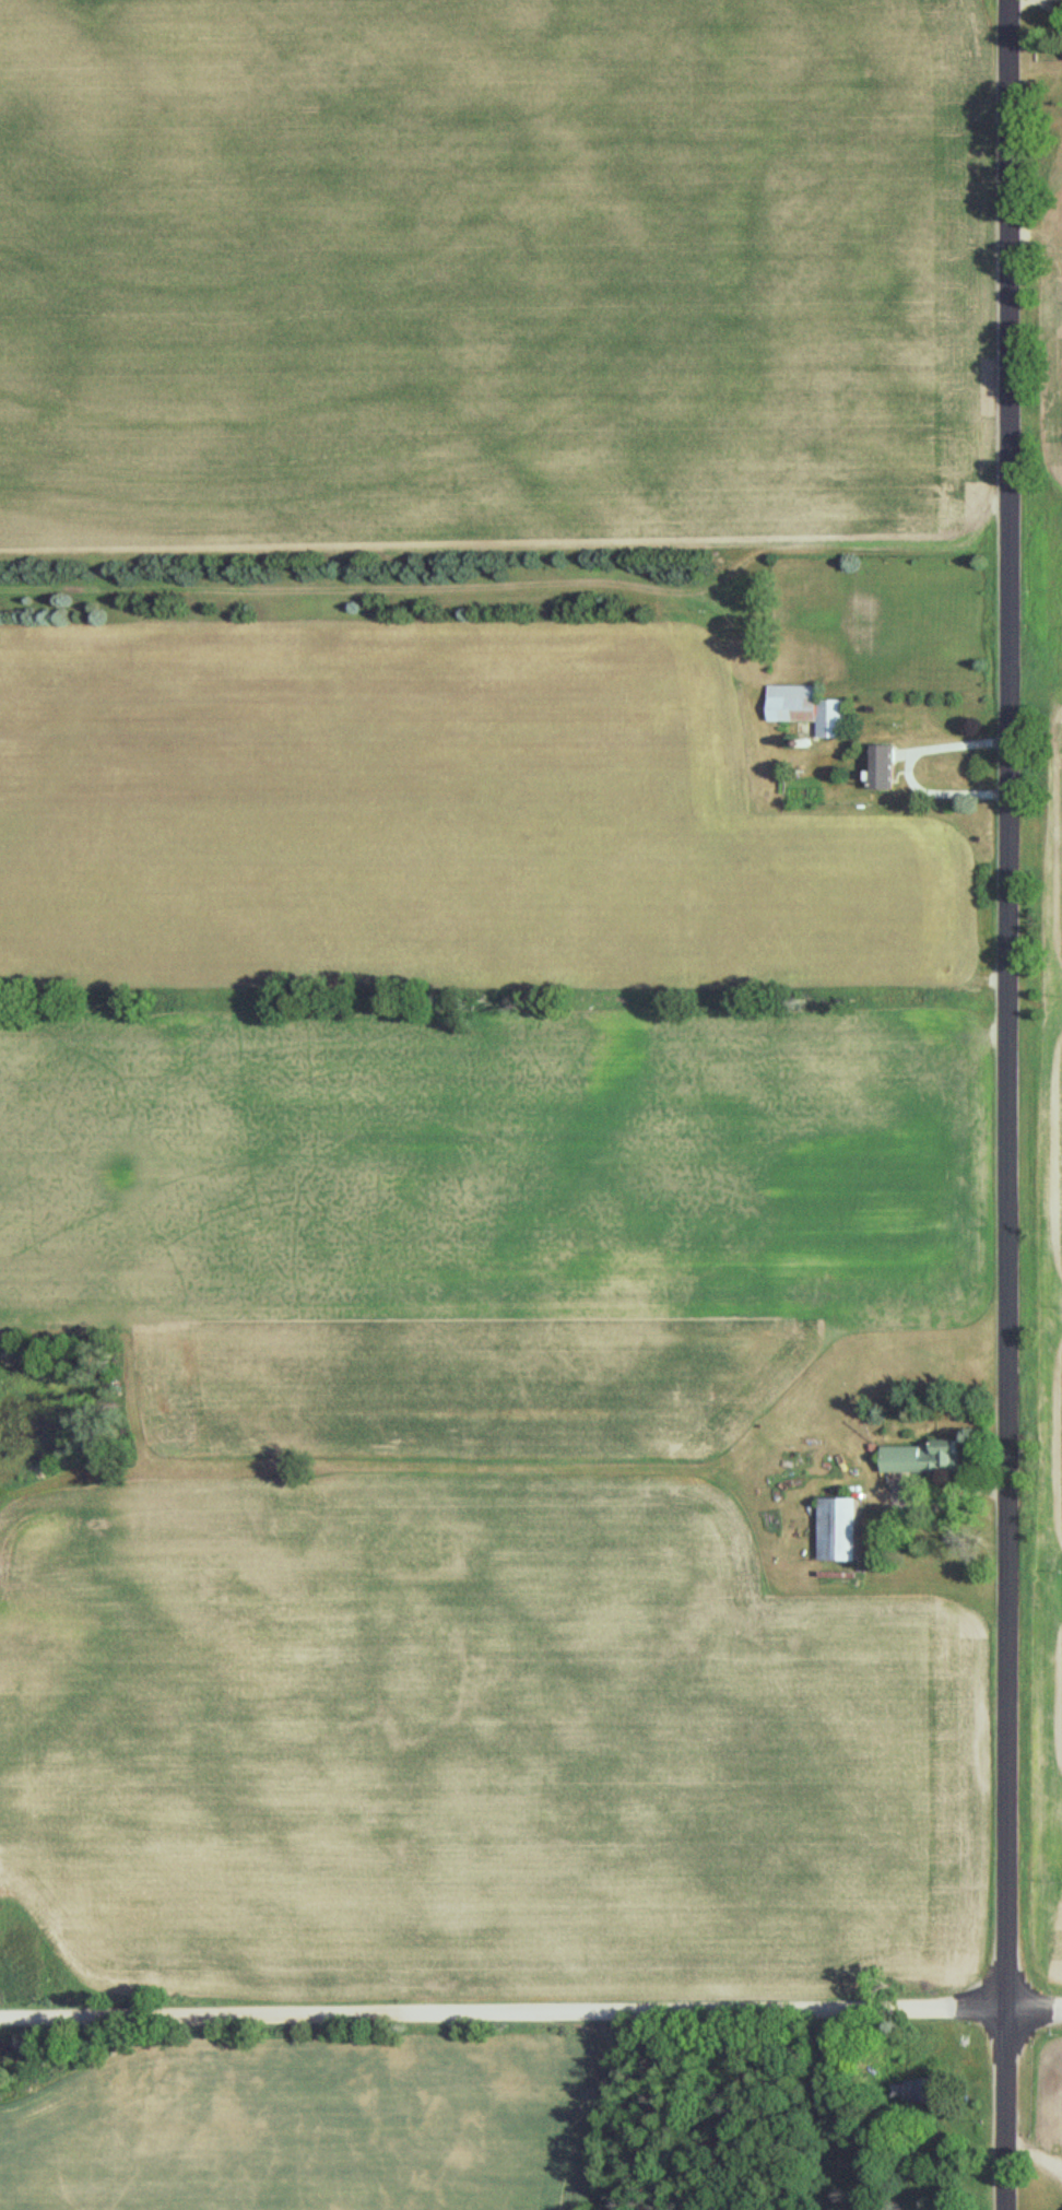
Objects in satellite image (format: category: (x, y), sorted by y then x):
building: (1055, 4)
building: (806, 709)
road: (911, 763)
building: (883, 767)
road: (1008, 1105)
building: (919, 1459)
building: (837, 1528)
road: (531, 2011)
building: (925, 2090)

